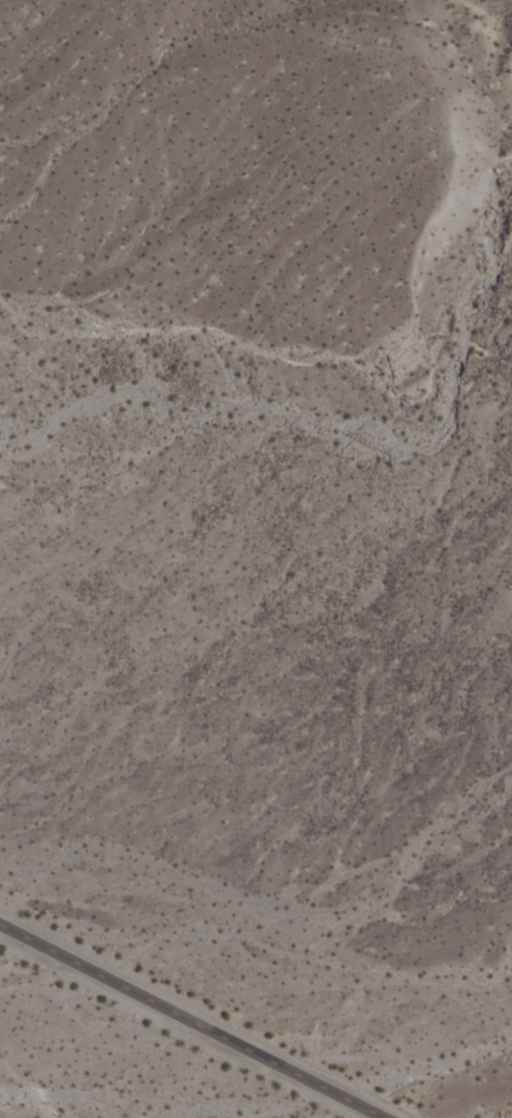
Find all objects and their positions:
road: (189, 1016)

